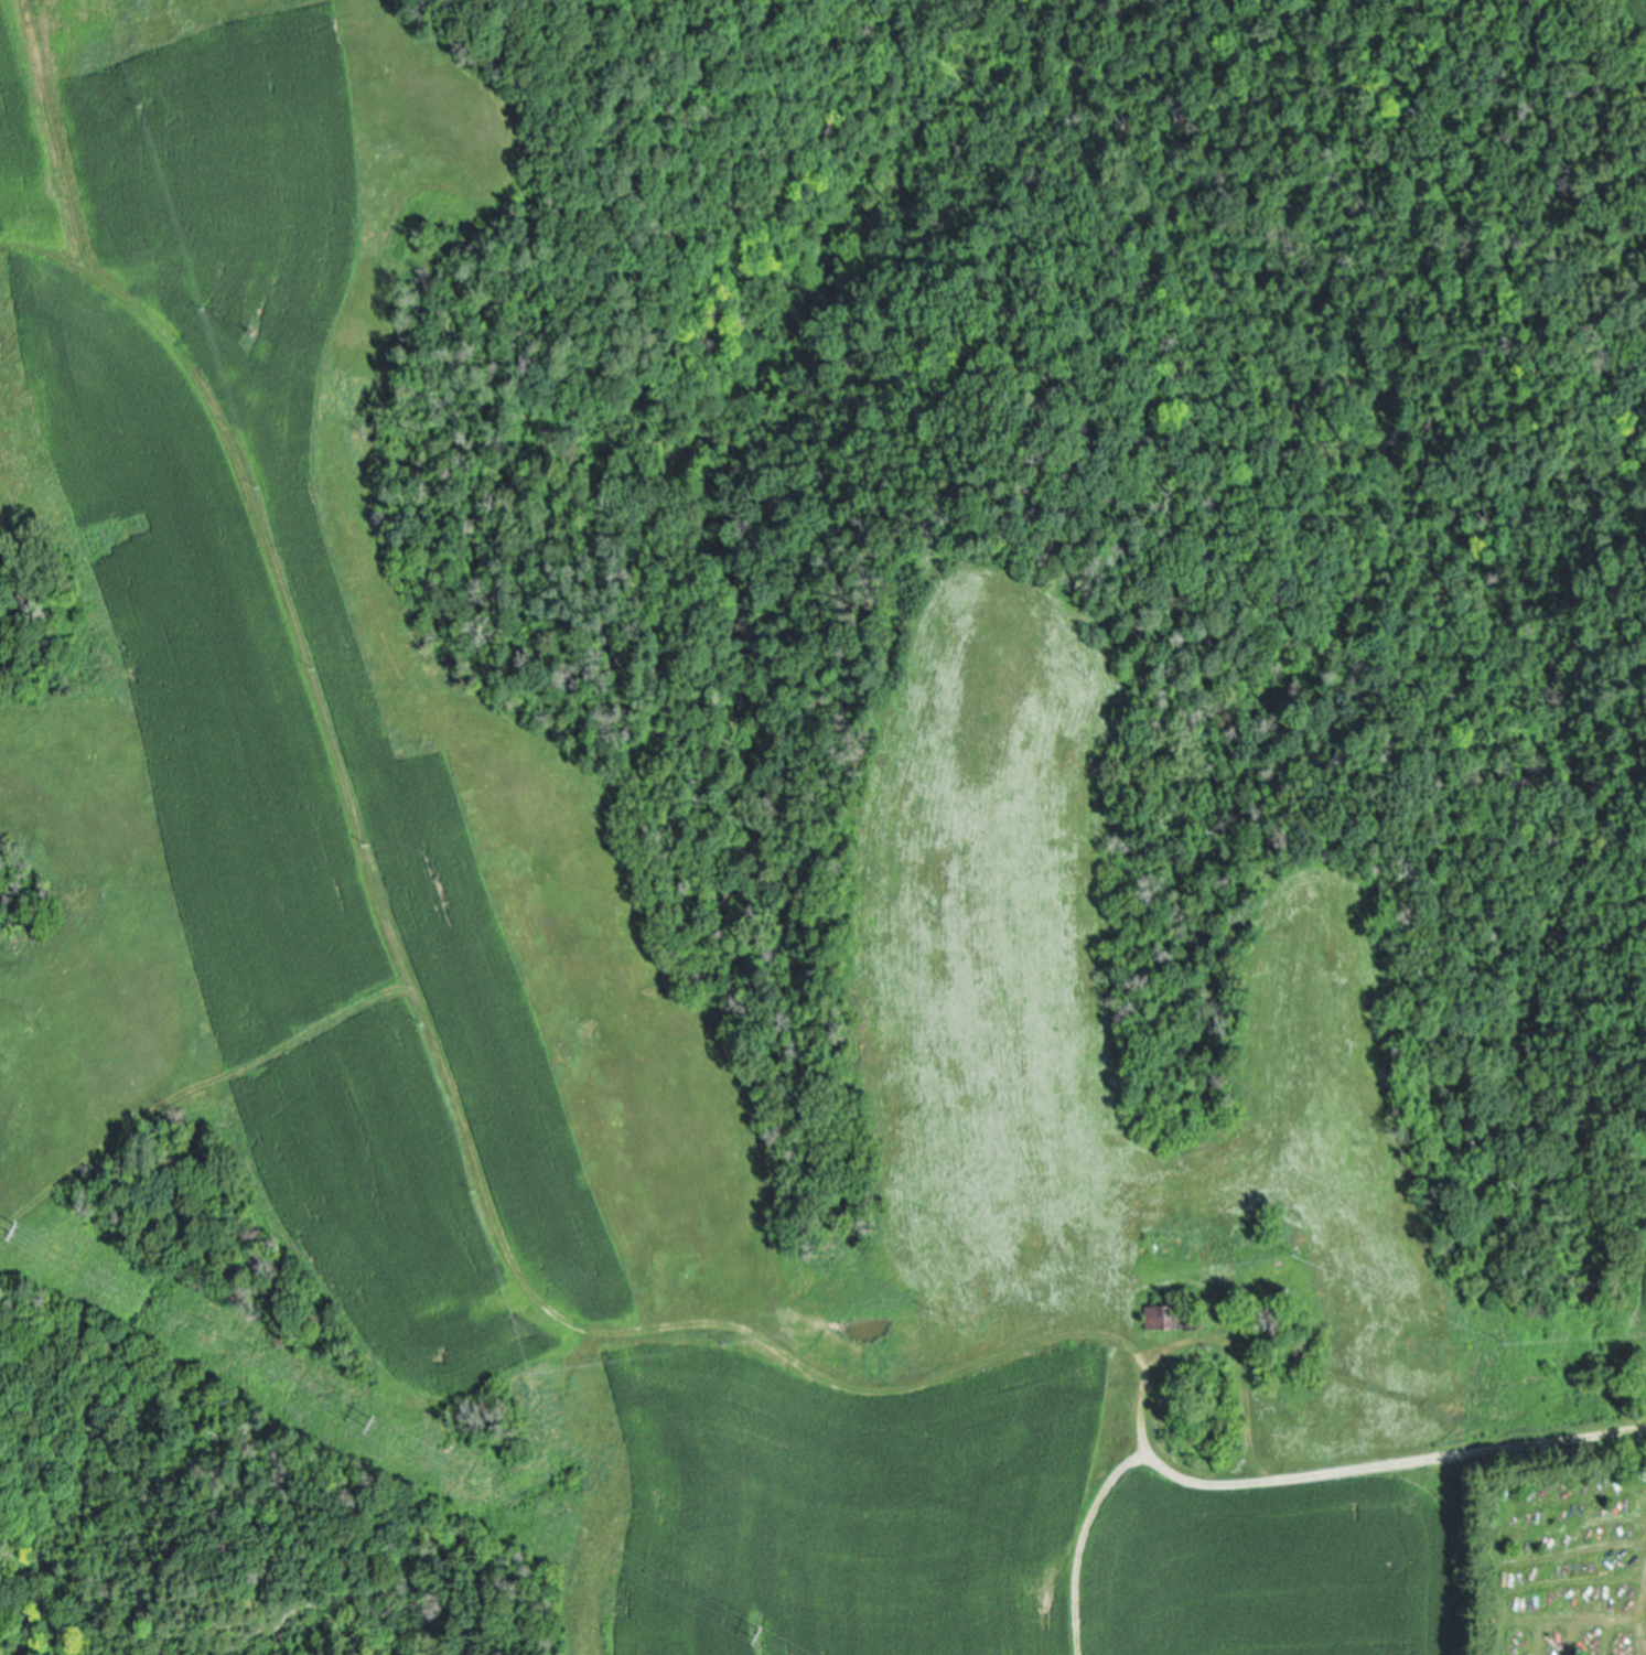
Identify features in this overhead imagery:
power tower: (22, 1227)
power tower: (377, 1422)
road: (1560, 1438)
road: (1153, 1454)
road: (1085, 1540)
power tower: (763, 1632)

